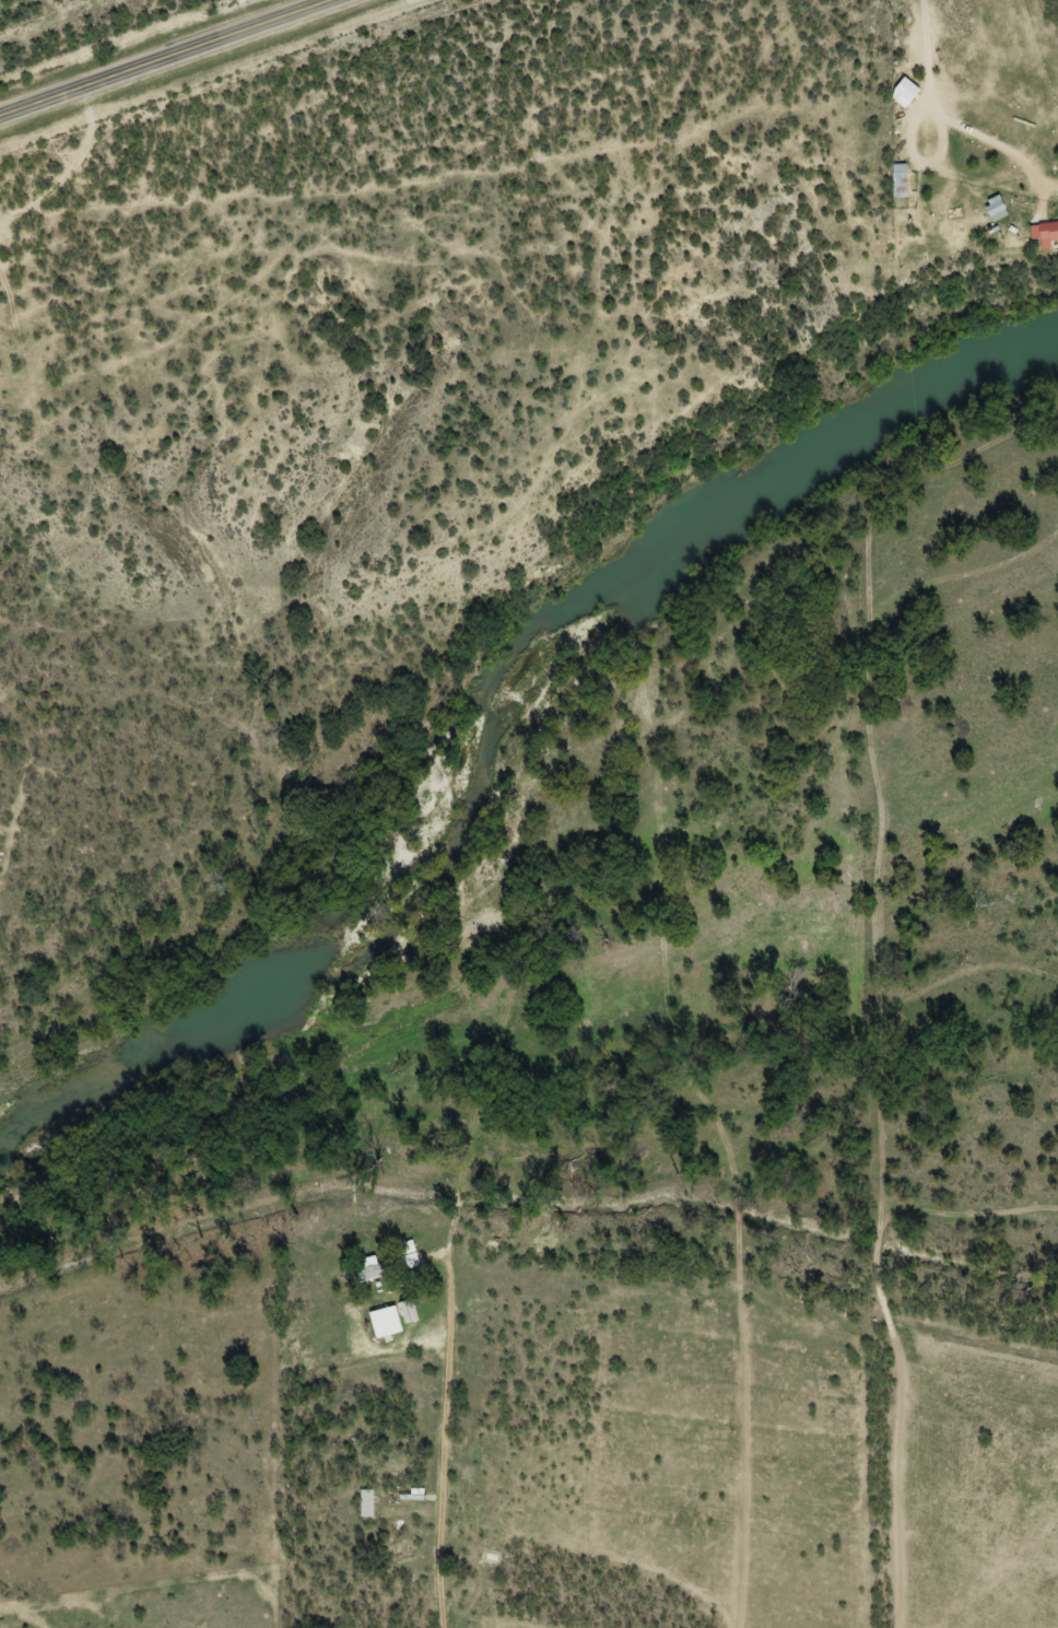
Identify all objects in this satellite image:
road: (165, 57)
building: (913, 89)
road: (70, 162)
building: (903, 179)
building: (1000, 207)
building: (1053, 230)
river: (496, 713)
building: (389, 1266)
building: (396, 1317)
road: (475, 1433)
building: (368, 1502)

